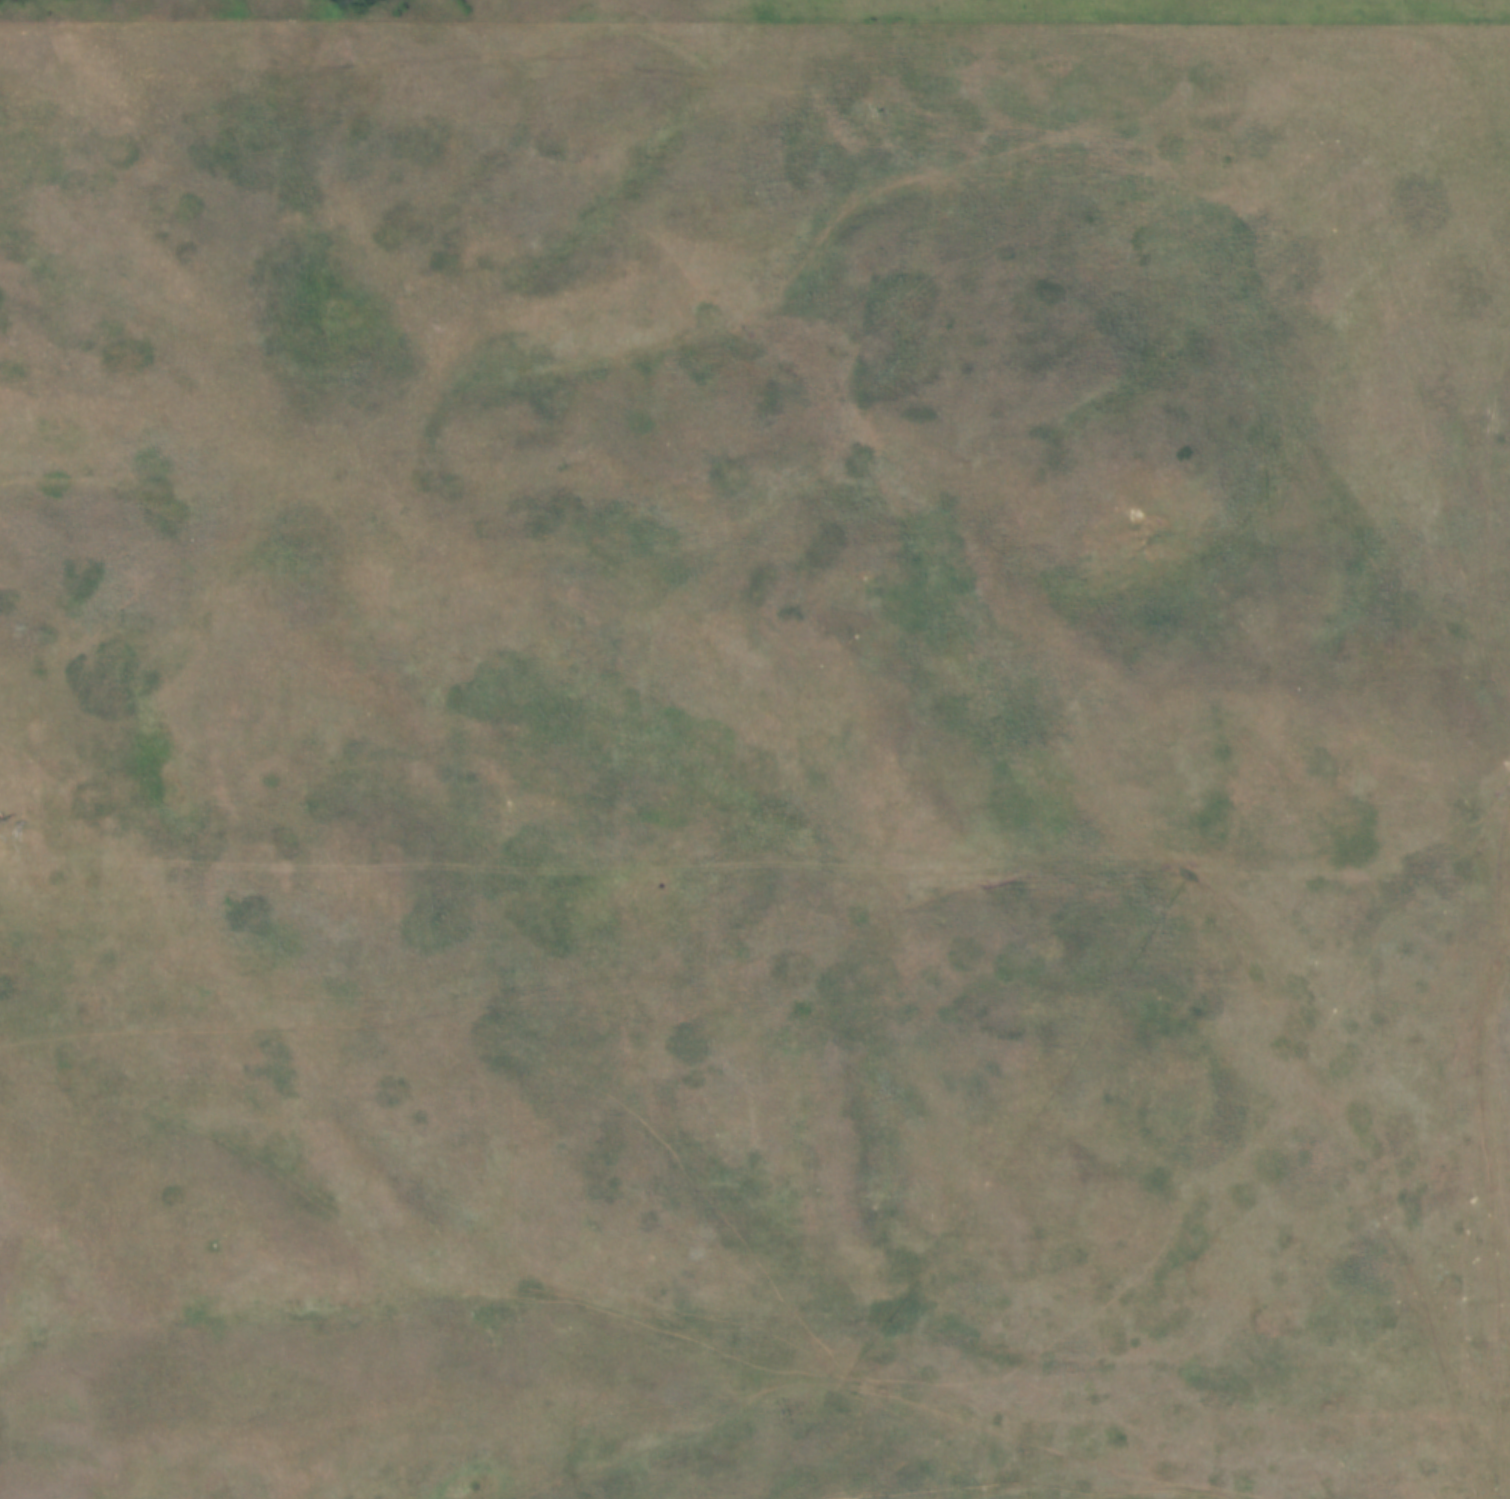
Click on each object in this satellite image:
road: (271, 864)

